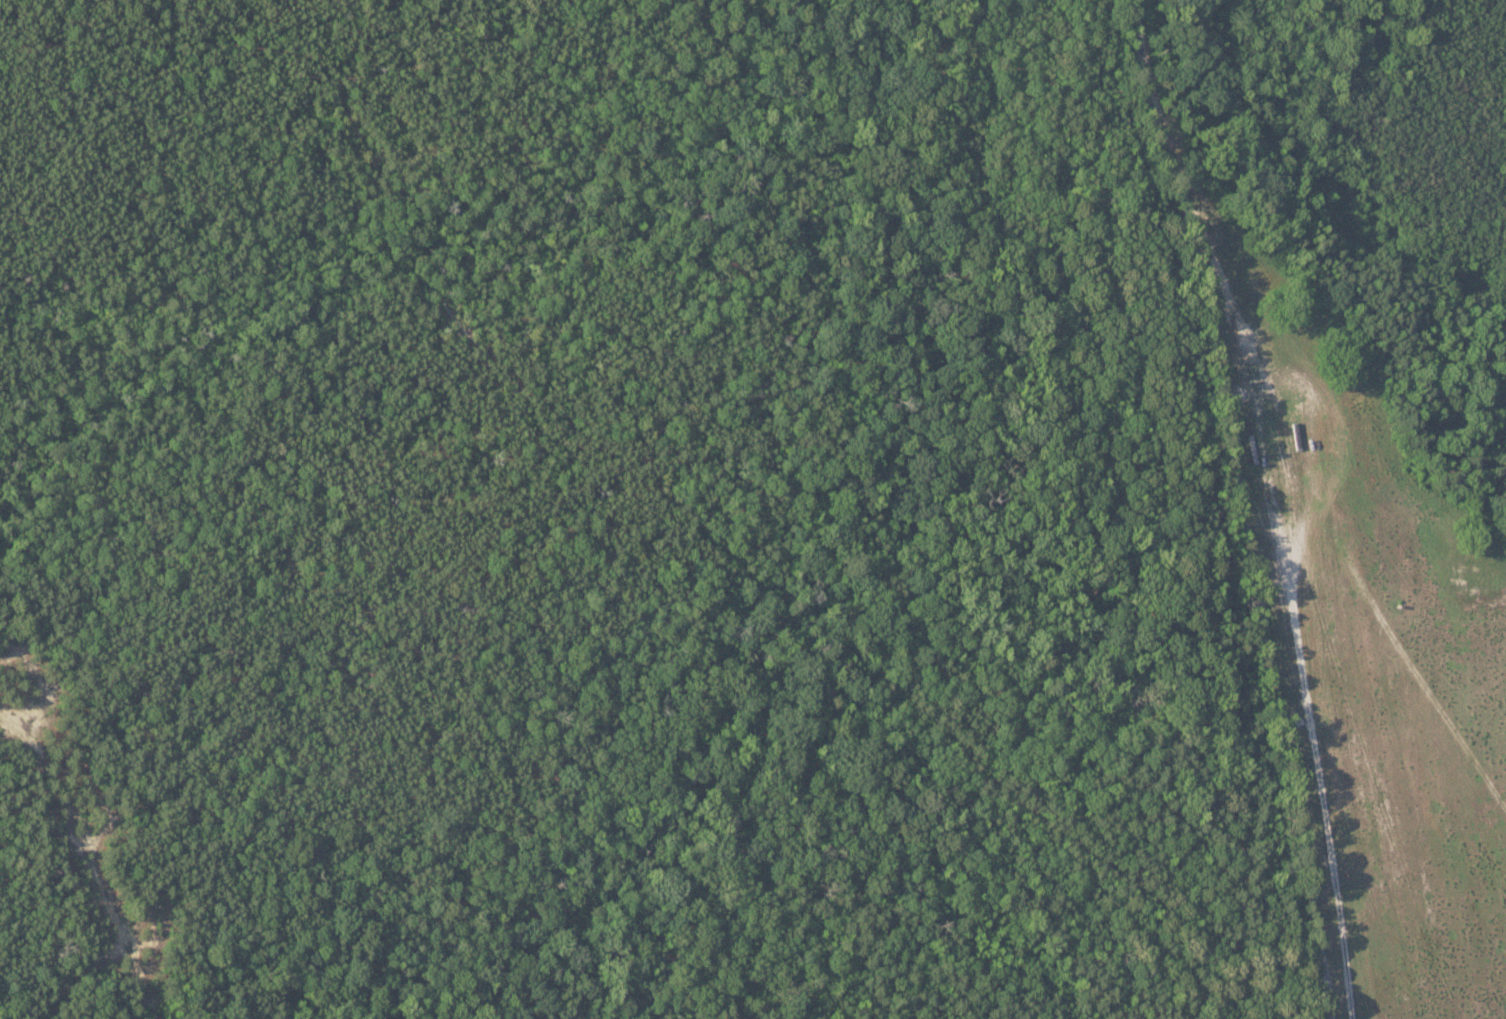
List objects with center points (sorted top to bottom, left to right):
road: (1246, 506)

